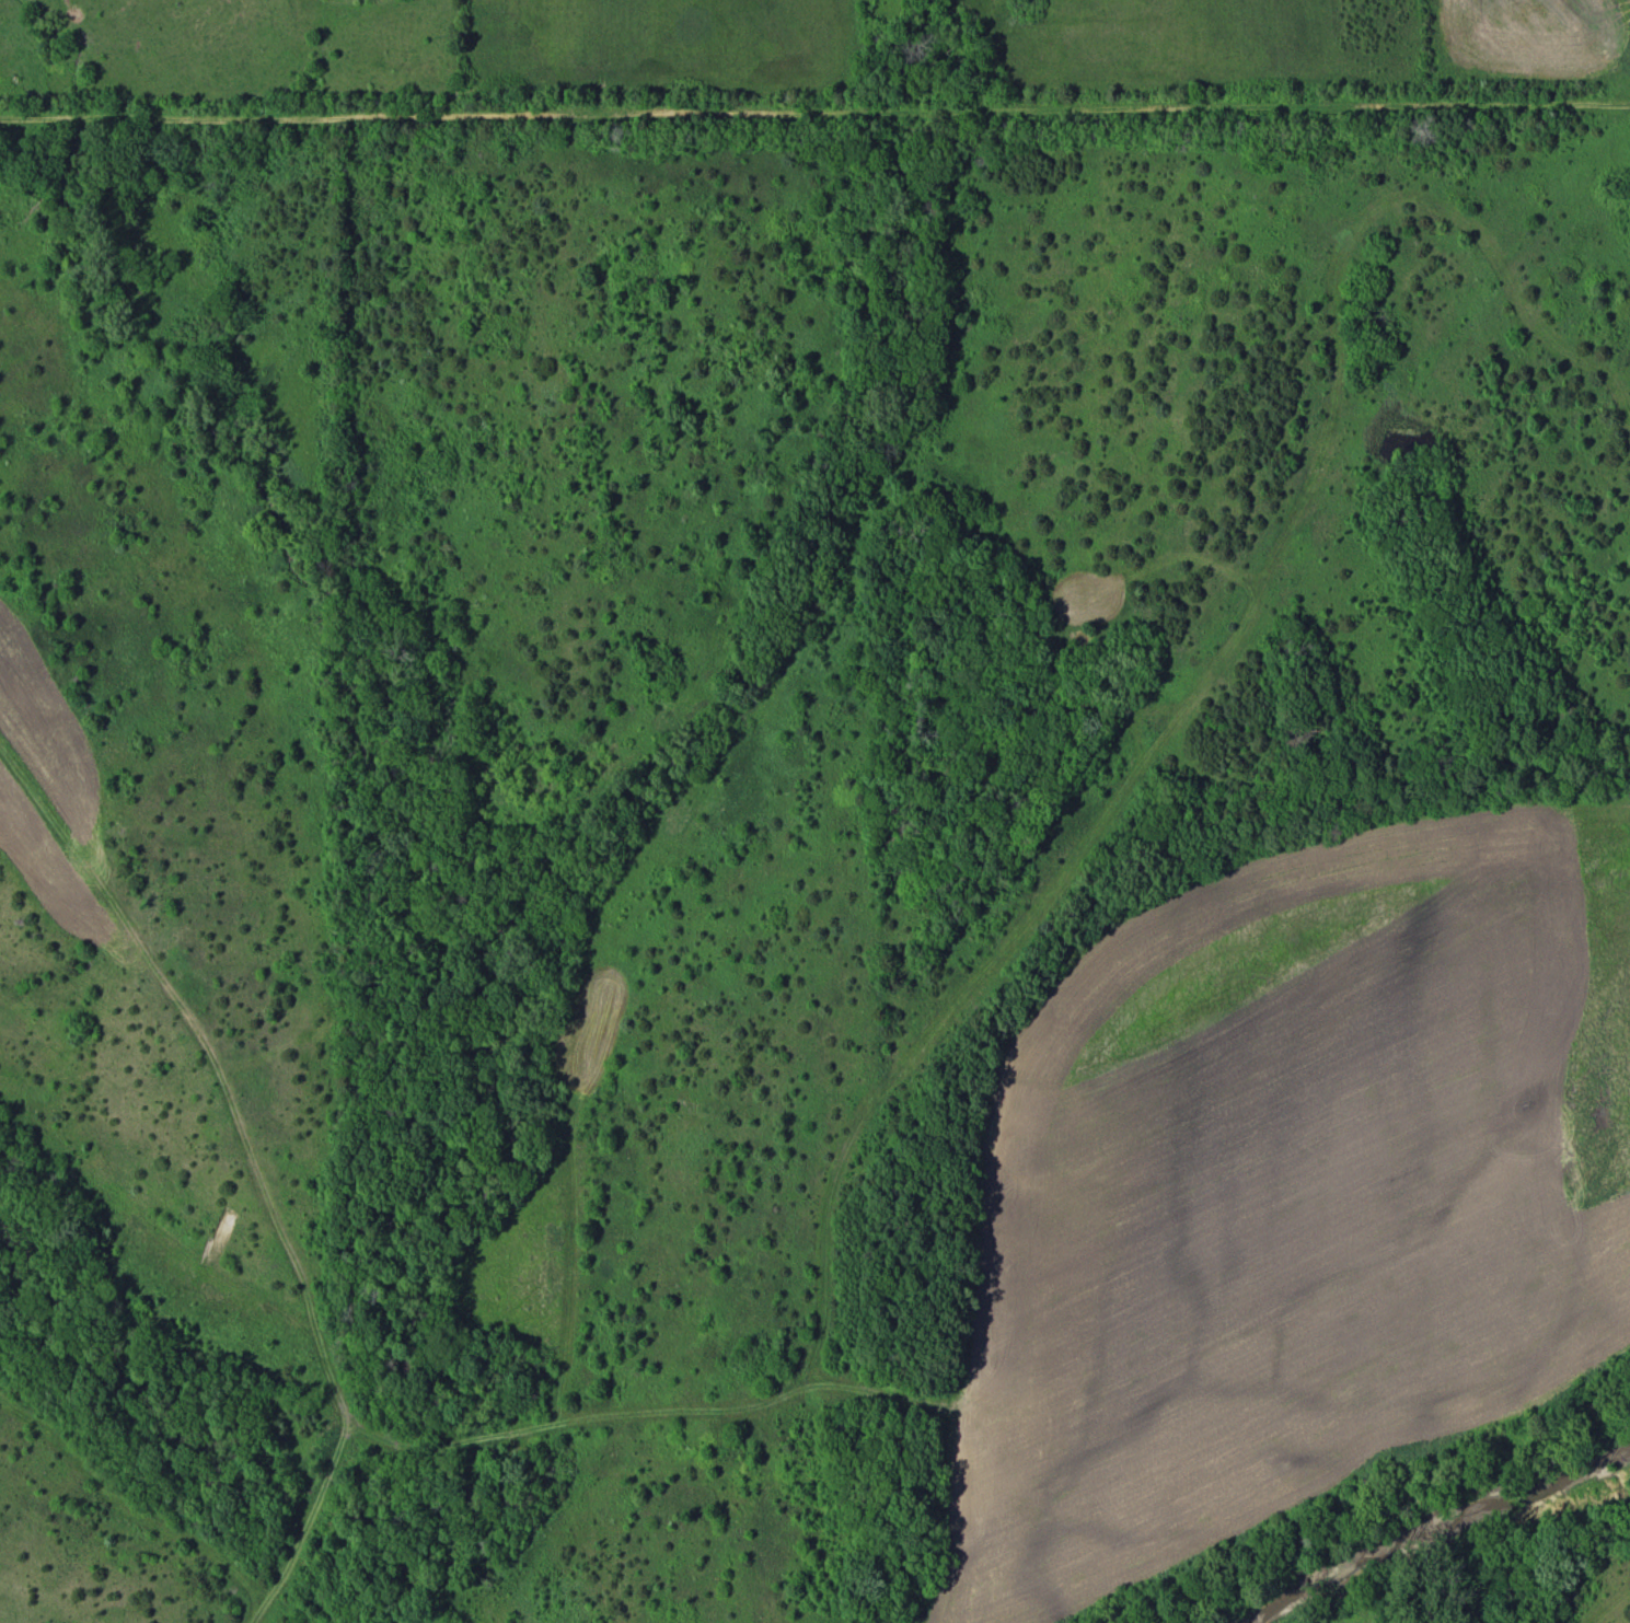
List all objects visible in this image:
road: (814, 114)

